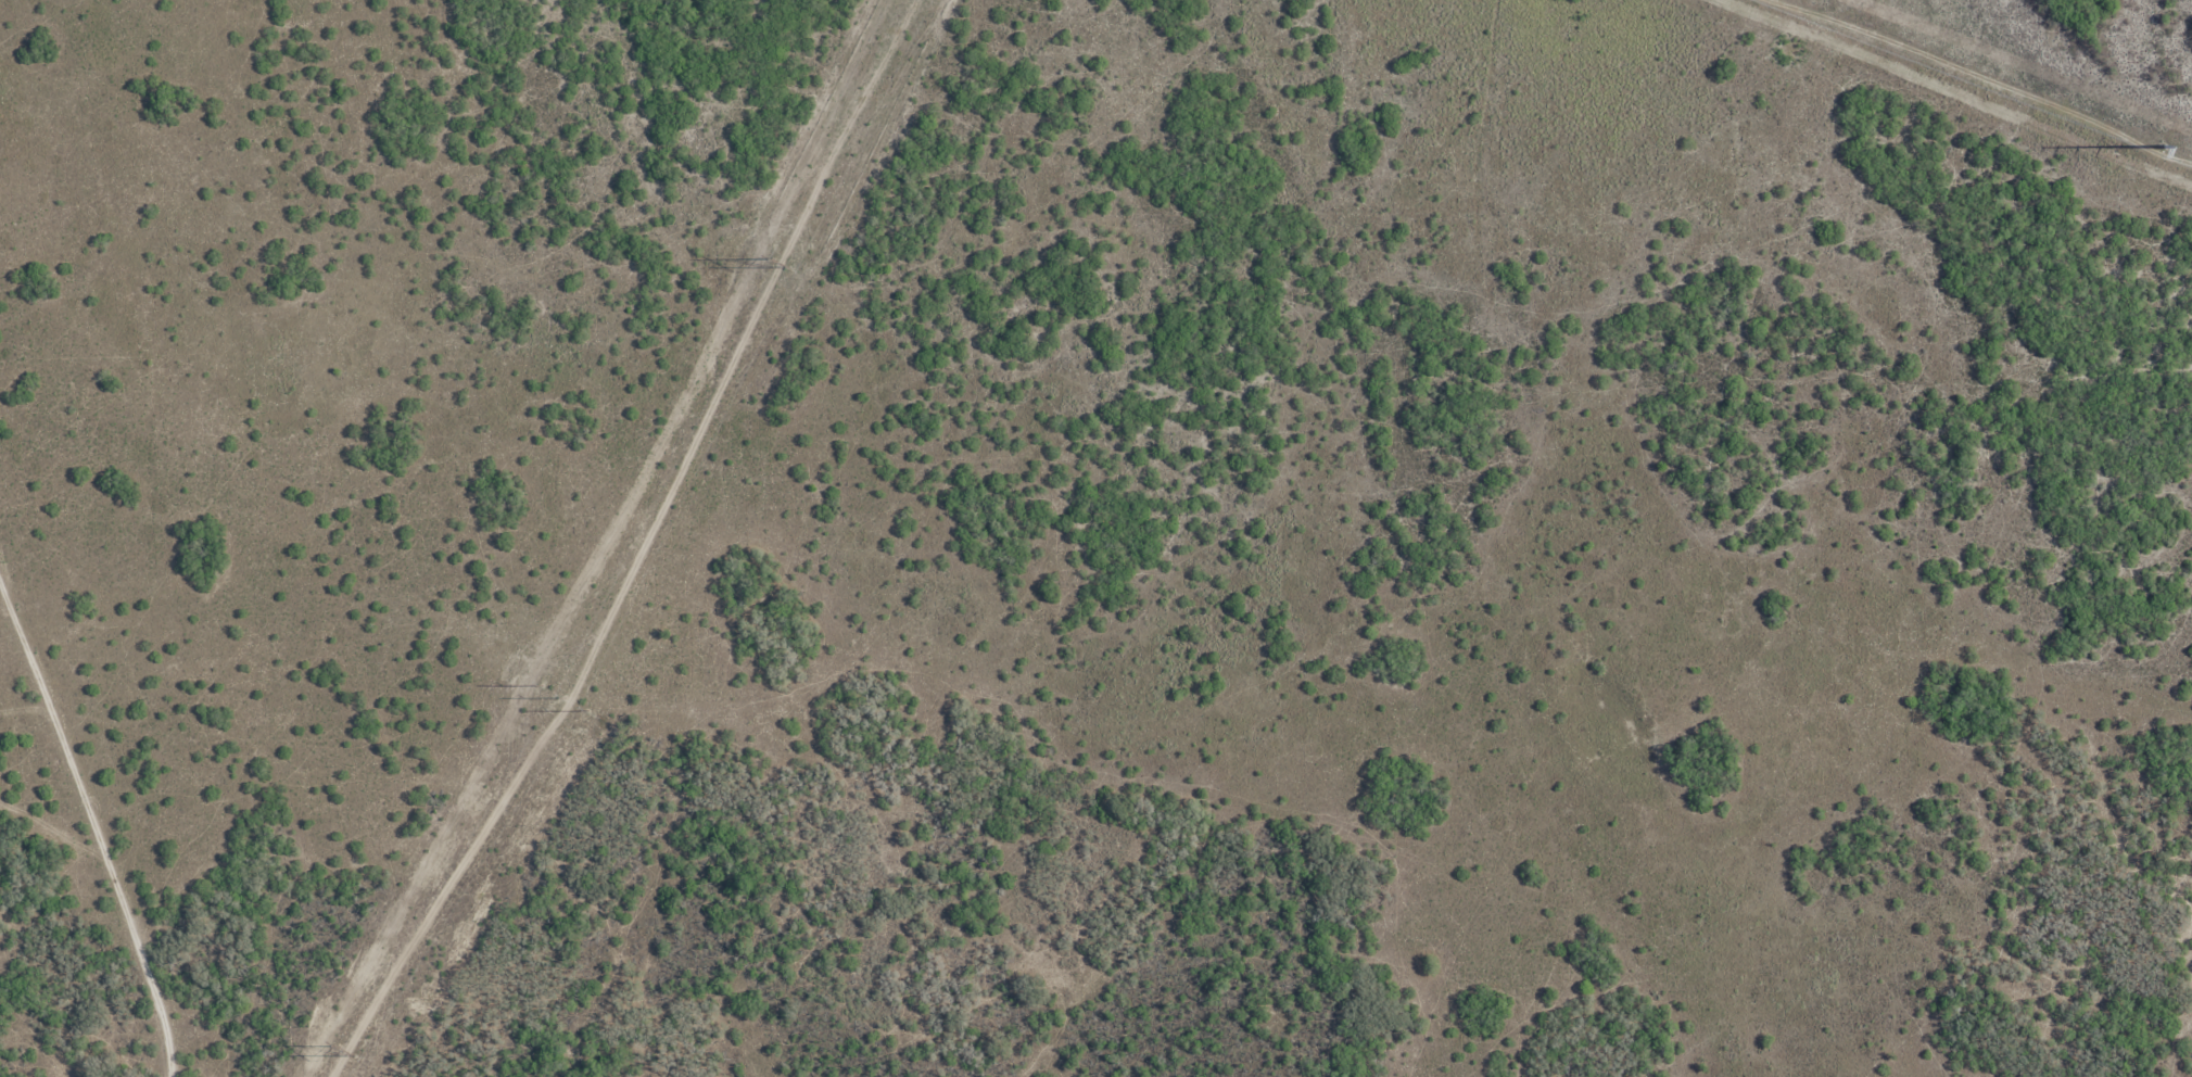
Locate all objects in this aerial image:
power tower: (2172, 153)

